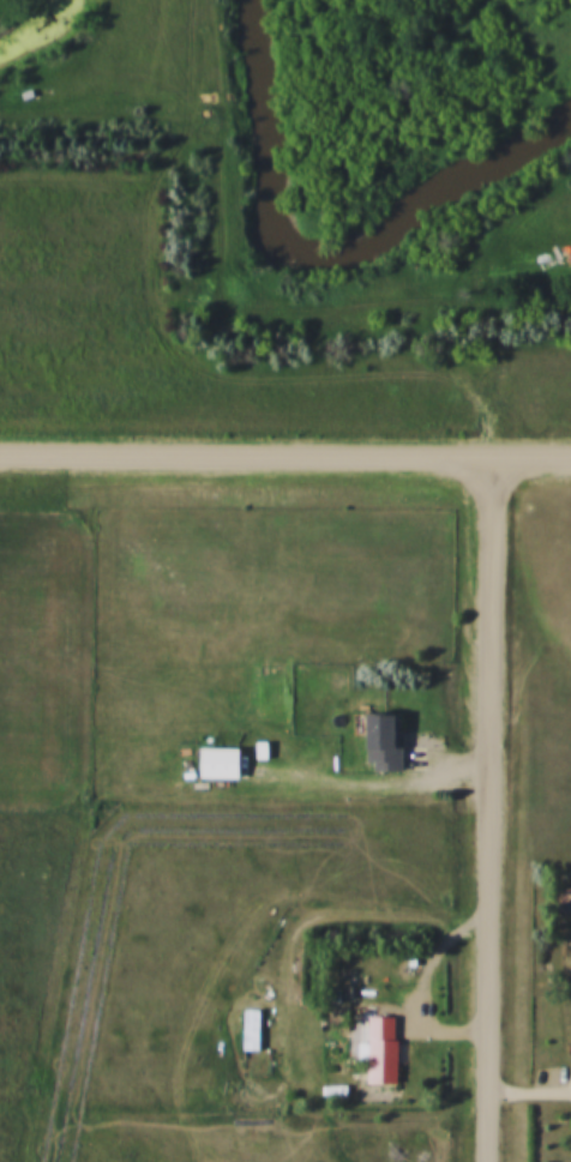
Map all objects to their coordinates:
river: (324, 255)
road: (285, 453)
building: (380, 741)
building: (216, 761)
road: (494, 807)
building: (563, 895)
building: (247, 1037)
building: (380, 1048)

